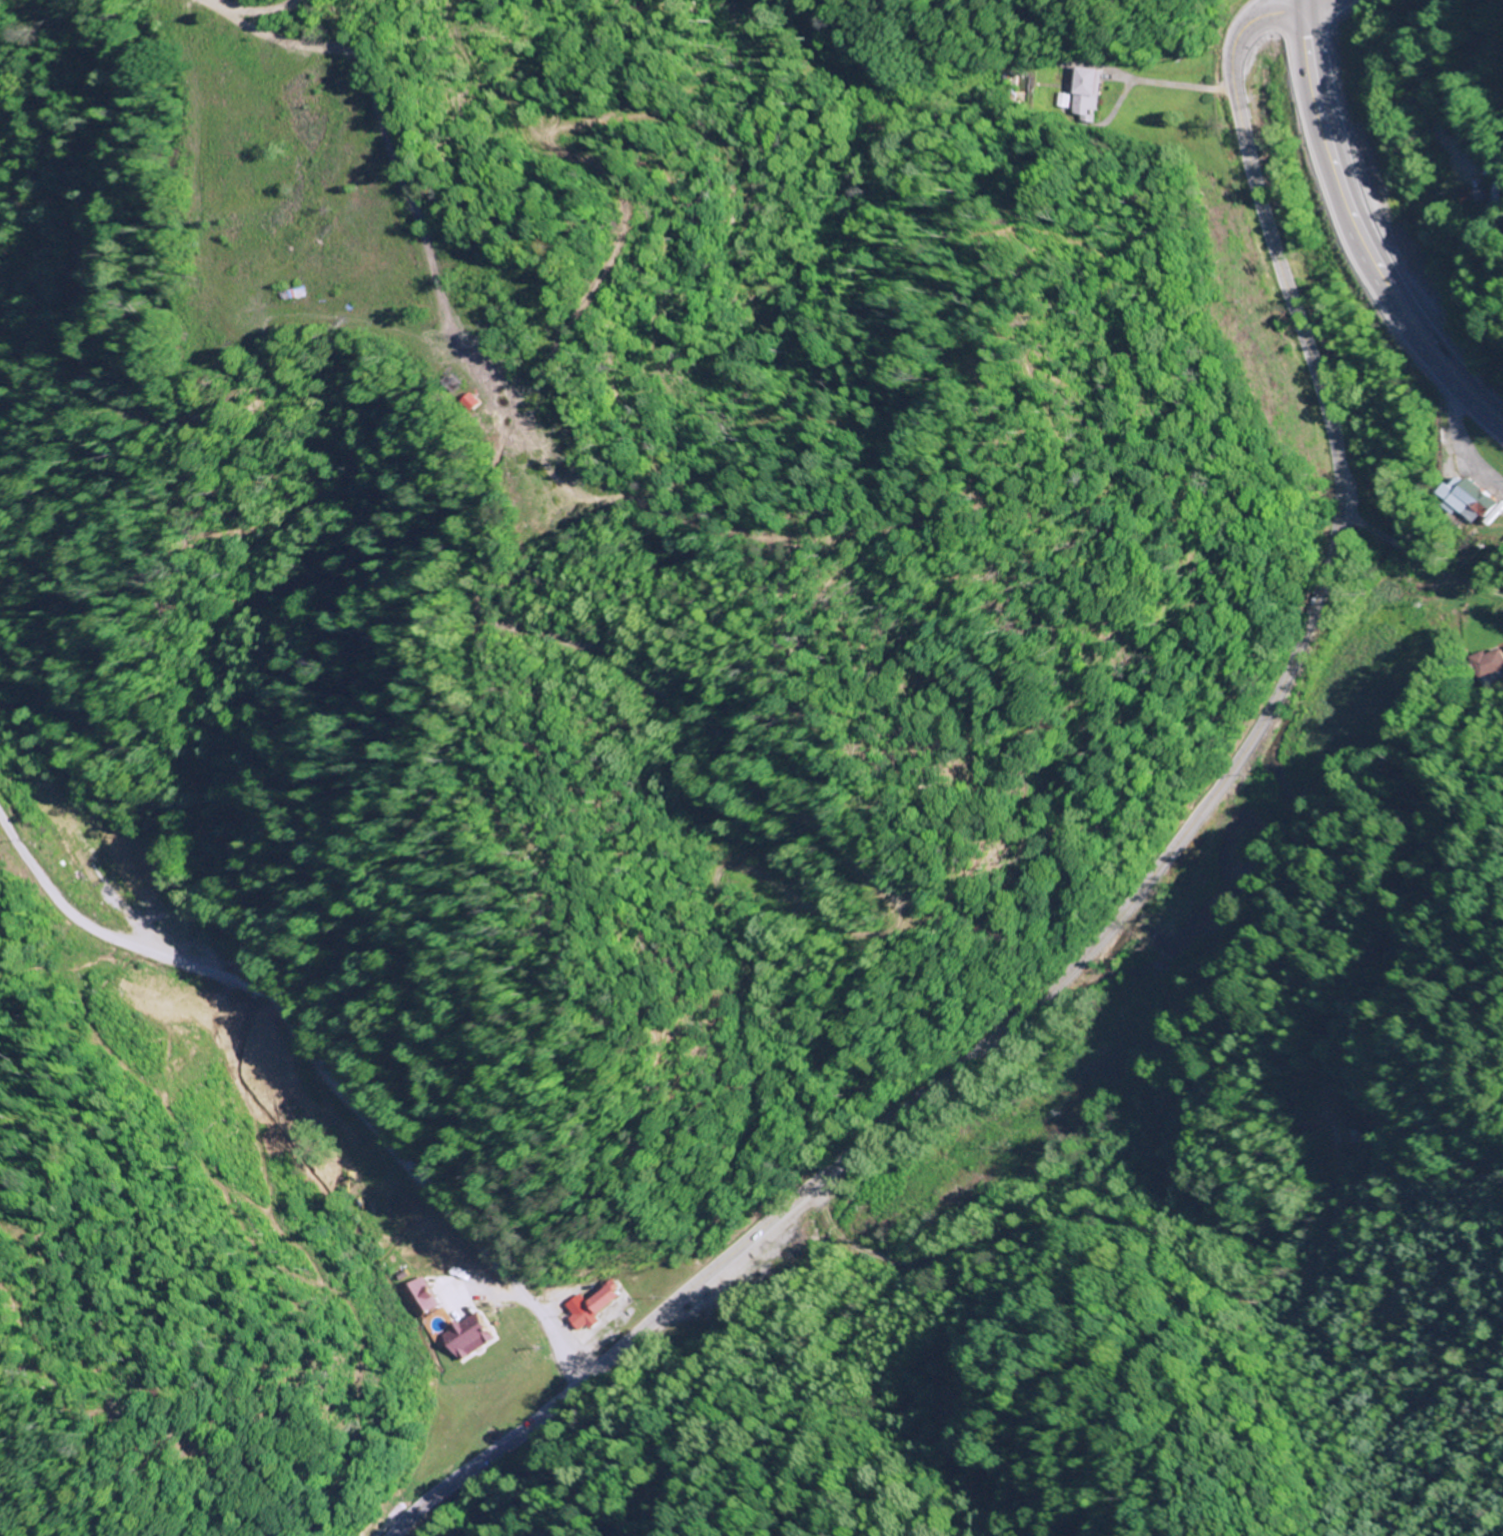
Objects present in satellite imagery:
road: (1299, 1)
road: (1301, 1)
road: (1324, 6)
building: (1084, 94)
building: (1493, 201)
road: (1359, 232)
building: (1471, 498)
building: (1490, 663)
road: (1135, 892)
road: (316, 1060)
road: (438, 1294)
building: (586, 1317)
building: (502, 1347)

